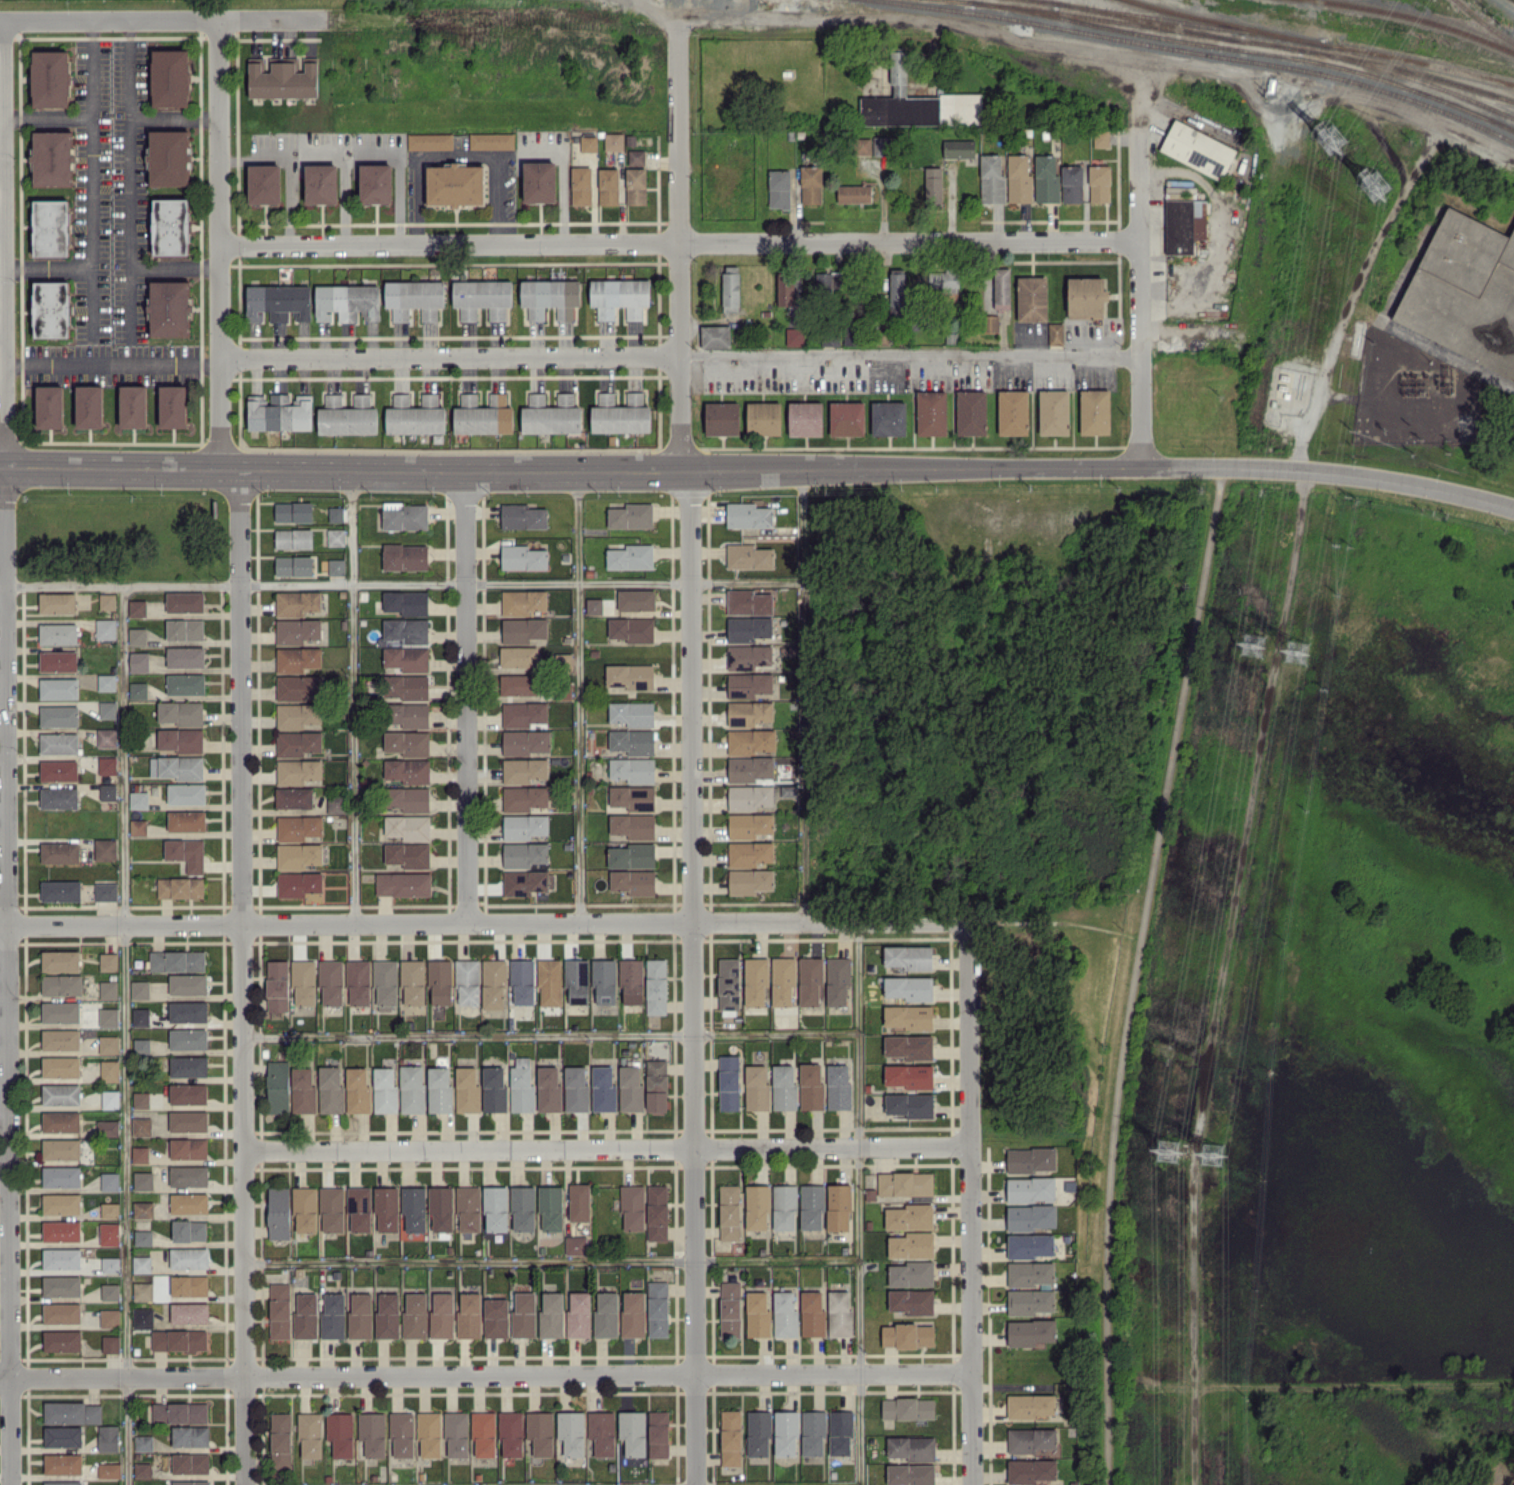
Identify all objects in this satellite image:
railway: (1041, 1)
road: (658, 10)
power tower: (1489, 13)
railway: (1096, 18)
railway: (1418, 18)
road: (791, 19)
road: (161, 20)
railway: (1148, 21)
railway: (1189, 23)
railway: (1483, 23)
railway: (1321, 43)
railway: (1247, 50)
railway: (1198, 52)
railway: (1379, 63)
railway: (1409, 76)
building: (51, 78)
building: (171, 78)
building: (283, 78)
building: (918, 103)
road: (47, 112)
road: (175, 116)
building: (1101, 138)
building: (492, 140)
power tower: (1333, 140)
building: (430, 141)
building: (614, 141)
building: (588, 143)
building: (862, 145)
building: (880, 145)
building: (959, 148)
road: (1, 149)
building: (1198, 149)
road: (1139, 150)
road: (458, 155)
building: (636, 156)
building: (169, 157)
building: (53, 158)
road: (289, 166)
building: (1019, 178)
building: (1046, 178)
road: (92, 179)
road: (400, 179)
building: (991, 179)
road: (130, 180)
road: (346, 181)
building: (539, 181)
building: (321, 183)
building: (376, 183)
building: (1072, 183)
building: (1099, 183)
building: (264, 184)
building: (455, 184)
building: (811, 184)
building: (581, 185)
building: (636, 185)
building: (608, 186)
building: (933, 186)
building: (779, 188)
power tower: (1376, 190)
building: (854, 193)
building: (1185, 224)
road: (1, 226)
building: (171, 226)
building: (51, 227)
road: (220, 241)
road: (3, 242)
road: (677, 242)
road: (679, 243)
road: (175, 266)
road: (48, 268)
building: (948, 280)
building: (829, 282)
building: (1459, 285)
building: (1001, 287)
building: (731, 288)
building: (785, 290)
building: (897, 290)
building: (620, 297)
building: (1087, 297)
building: (415, 298)
building: (482, 298)
building: (550, 298)
building: (1032, 298)
building: (278, 302)
building: (348, 302)
building: (170, 308)
building: (51, 309)
building: (991, 323)
building: (1055, 333)
road: (1334, 334)
building: (715, 336)
building: (795, 336)
road: (2, 338)
building: (850, 338)
road: (909, 353)
road: (449, 358)
road: (112, 366)
building: (362, 399)
building: (50, 406)
building: (89, 406)
building: (133, 406)
building: (173, 406)
building: (280, 411)
building: (1095, 411)
building: (971, 412)
building: (1013, 412)
building: (1054, 412)
building: (932, 413)
building: (551, 414)
building: (620, 414)
building: (415, 415)
building: (483, 415)
building: (346, 417)
building: (722, 418)
building: (763, 418)
building: (805, 418)
building: (847, 418)
building: (889, 418)
road: (758, 467)
building: (294, 511)
building: (631, 515)
building: (748, 515)
building: (405, 516)
building: (523, 516)
building: (336, 537)
building: (293, 538)
building: (405, 556)
building: (748, 556)
building: (523, 557)
building: (630, 557)
building: (294, 565)
building: (336, 566)
road: (402, 582)
building: (636, 599)
building: (107, 601)
building: (185, 601)
building: (749, 601)
building: (57, 602)
building: (297, 602)
building: (406, 602)
building: (523, 602)
building: (594, 606)
building: (137, 608)
building: (105, 628)
building: (748, 628)
building: (185, 629)
building: (632, 629)
building: (407, 630)
building: (523, 630)
building: (297, 631)
building: (58, 633)
building: (137, 636)
power tower: (1254, 649)
power tower: (1301, 655)
building: (185, 656)
building: (519, 656)
building: (748, 656)
building: (298, 658)
building: (407, 658)
building: (58, 661)
building: (139, 661)
building: (630, 676)
building: (106, 682)
building: (185, 683)
building: (519, 684)
building: (749, 685)
building: (407, 686)
building: (299, 687)
building: (59, 688)
building: (138, 690)
road: (579, 694)
road: (804, 694)
road: (353, 695)
road: (467, 695)
building: (107, 709)
building: (181, 712)
building: (749, 712)
building: (523, 713)
building: (632, 713)
building: (409, 714)
building: (59, 715)
building: (298, 715)
building: (106, 737)
building: (181, 739)
building: (632, 741)
building: (751, 741)
building: (59, 742)
building: (407, 742)
building: (526, 742)
building: (298, 743)
building: (107, 765)
building: (178, 767)
building: (749, 768)
building: (632, 769)
building: (59, 770)
building: (408, 770)
building: (524, 770)
building: (298, 771)
building: (108, 791)
building: (186, 793)
building: (58, 797)
building: (294, 797)
building: (632, 797)
building: (749, 797)
building: (408, 798)
building: (524, 798)
building: (138, 799)
building: (336, 804)
building: (186, 820)
building: (632, 825)
building: (750, 825)
building: (524, 826)
building: (138, 827)
building: (298, 827)
building: (408, 827)
building: (105, 849)
building: (60, 852)
building: (186, 853)
building: (749, 853)
building: (408, 854)
building: (524, 854)
building: (299, 855)
building: (632, 855)
building: (633, 881)
building: (750, 881)
building: (526, 882)
building: (298, 883)
building: (403, 883)
building: (180, 887)
building: (60, 891)
building: (106, 891)
road: (482, 924)
road: (1054, 925)
building: (909, 957)
building: (60, 960)
building: (108, 961)
building: (177, 961)
road: (7, 974)
road: (242, 974)
road: (1136, 974)
road: (692, 975)
road: (1224, 975)
building: (577, 980)
building: (604, 980)
building: (631, 980)
building: (755, 980)
building: (783, 980)
building: (837, 980)
building: (304, 981)
building: (440, 981)
building: (468, 981)
building: (810, 981)
building: (331, 982)
building: (358, 982)
building: (385, 982)
building: (413, 982)
building: (522, 982)
building: (549, 982)
building: (61, 984)
building: (188, 984)
building: (493, 984)
building: (277, 985)
building: (728, 985)
building: (656, 986)
building: (909, 987)
building: (108, 989)
building: (140, 989)
building: (188, 1011)
building: (60, 1012)
building: (141, 1016)
building: (909, 1016)
building: (108, 1017)
road: (550, 1033)
road: (125, 1034)
building: (188, 1038)
building: (61, 1039)
building: (108, 1044)
building: (141, 1045)
building: (908, 1046)
building: (188, 1065)
building: (61, 1066)
building: (109, 1070)
building: (909, 1075)
building: (729, 1082)
building: (656, 1085)
building: (278, 1086)
building: (522, 1086)
building: (811, 1086)
building: (838, 1086)
building: (756, 1087)
building: (783, 1087)
building: (412, 1088)
building: (494, 1088)
building: (549, 1088)
building: (576, 1088)
building: (330, 1089)
building: (440, 1089)
building: (467, 1089)
building: (603, 1089)
building: (631, 1089)
building: (303, 1090)
building: (357, 1090)
building: (385, 1090)
building: (188, 1093)
building: (61, 1094)
building: (110, 1099)
building: (141, 1100)
building: (910, 1105)
building: (61, 1121)
building: (188, 1121)
building: (141, 1126)
building: (108, 1127)
road: (606, 1147)
building: (188, 1148)
building: (61, 1149)
building: (140, 1154)
power tower: (1168, 1156)
building: (1031, 1159)
power tower: (1216, 1159)
building: (188, 1175)
building: (61, 1176)
building: (143, 1180)
building: (110, 1181)
building: (905, 1183)
building: (1030, 1189)
building: (189, 1202)
building: (579, 1202)
building: (61, 1203)
road: (859, 1203)
road: (968, 1204)
building: (632, 1206)
building: (812, 1206)
building: (550, 1207)
building: (757, 1207)
building: (784, 1207)
building: (839, 1207)
building: (305, 1208)
building: (359, 1208)
building: (441, 1208)
building: (468, 1208)
building: (496, 1208)
building: (523, 1208)
building: (143, 1209)
building: (332, 1209)
building: (387, 1209)
building: (414, 1209)
building: (110, 1210)
building: (279, 1212)
building: (657, 1212)
building: (729, 1212)
building: (910, 1217)
building: (1030, 1217)
building: (61, 1230)
building: (189, 1230)
building: (109, 1233)
building: (143, 1237)
building: (576, 1244)
building: (911, 1245)
building: (1030, 1245)
building: (189, 1257)
building: (61, 1258)
road: (469, 1261)
building: (141, 1263)
building: (110, 1264)
building: (911, 1273)
building: (1030, 1273)
building: (61, 1285)
building: (189, 1285)
building: (110, 1291)
building: (142, 1291)
building: (911, 1301)
building: (1030, 1301)
building: (657, 1308)
building: (730, 1309)
building: (279, 1310)
building: (61, 1312)
building: (189, 1312)
building: (633, 1313)
building: (839, 1313)
building: (442, 1314)
building: (551, 1314)
building: (579, 1314)
building: (606, 1314)
building: (757, 1314)
building: (785, 1314)
building: (812, 1314)
building: (415, 1315)
building: (469, 1315)
building: (524, 1315)
building: (305, 1316)
building: (332, 1316)
building: (360, 1316)
building: (387, 1316)
building: (109, 1317)
building: (142, 1317)
building: (496, 1317)
building: (1031, 1332)
building: (908, 1335)
building: (179, 1339)
building: (62, 1340)
building: (110, 1343)
road: (485, 1376)
building: (1031, 1405)
building: (908, 1408)
building: (72, 1412)
building: (179, 1412)
building: (511, 1432)
building: (540, 1432)
building: (571, 1432)
building: (602, 1432)
building: (633, 1432)
building: (840, 1432)
building: (310, 1433)
building: (340, 1433)
building: (372, 1433)
building: (402, 1433)
building: (429, 1433)
building: (658, 1433)
building: (758, 1433)
building: (786, 1433)
building: (813, 1433)
building: (456, 1434)
building: (484, 1434)
building: (62, 1436)
building: (190, 1436)
building: (108, 1437)
building: (730, 1437)
building: (1032, 1439)
building: (280, 1440)
building: (143, 1442)
building: (912, 1447)
building: (63, 1463)
building: (190, 1463)
building: (142, 1469)
building: (109, 1470)
building: (1030, 1470)
building: (911, 1474)
building: (63, 1482)
building: (191, 1482)
road: (819, 1484)

